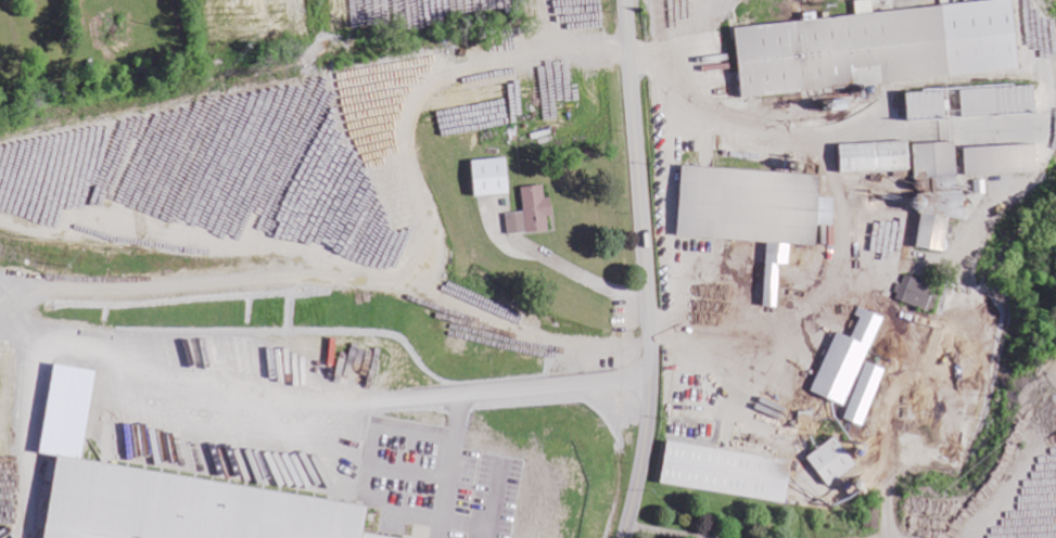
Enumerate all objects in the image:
building: (880, 46)
building: (1000, 100)
building: (931, 104)
building: (879, 156)
building: (1005, 159)
building: (494, 177)
building: (941, 192)
building: (533, 212)
building: (759, 212)
road: (564, 266)
road: (648, 270)
building: (917, 292)
building: (850, 359)
building: (867, 394)
building: (836, 460)
building: (730, 472)
building: (192, 505)

